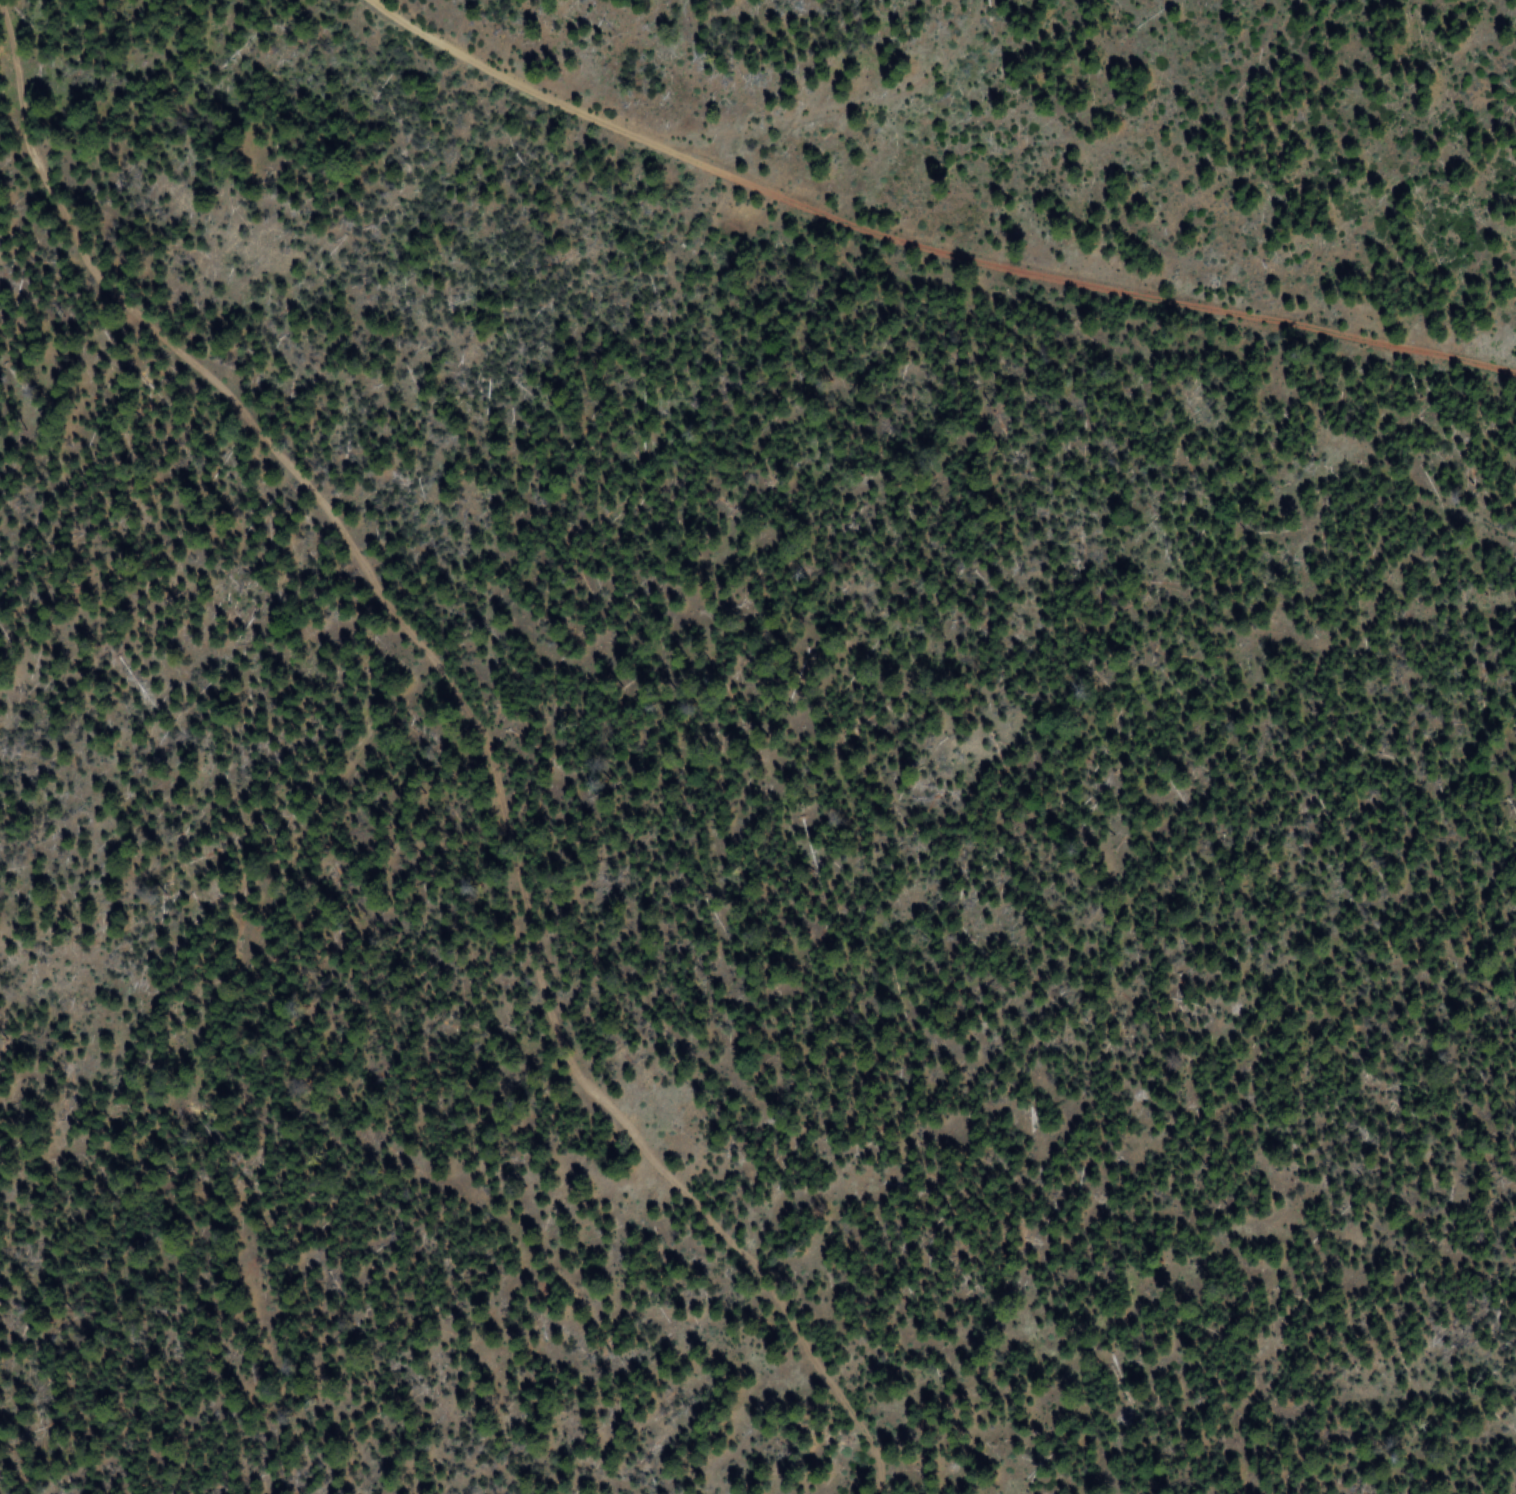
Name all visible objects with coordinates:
road: (839, 105)
road: (926, 244)
road: (482, 733)

